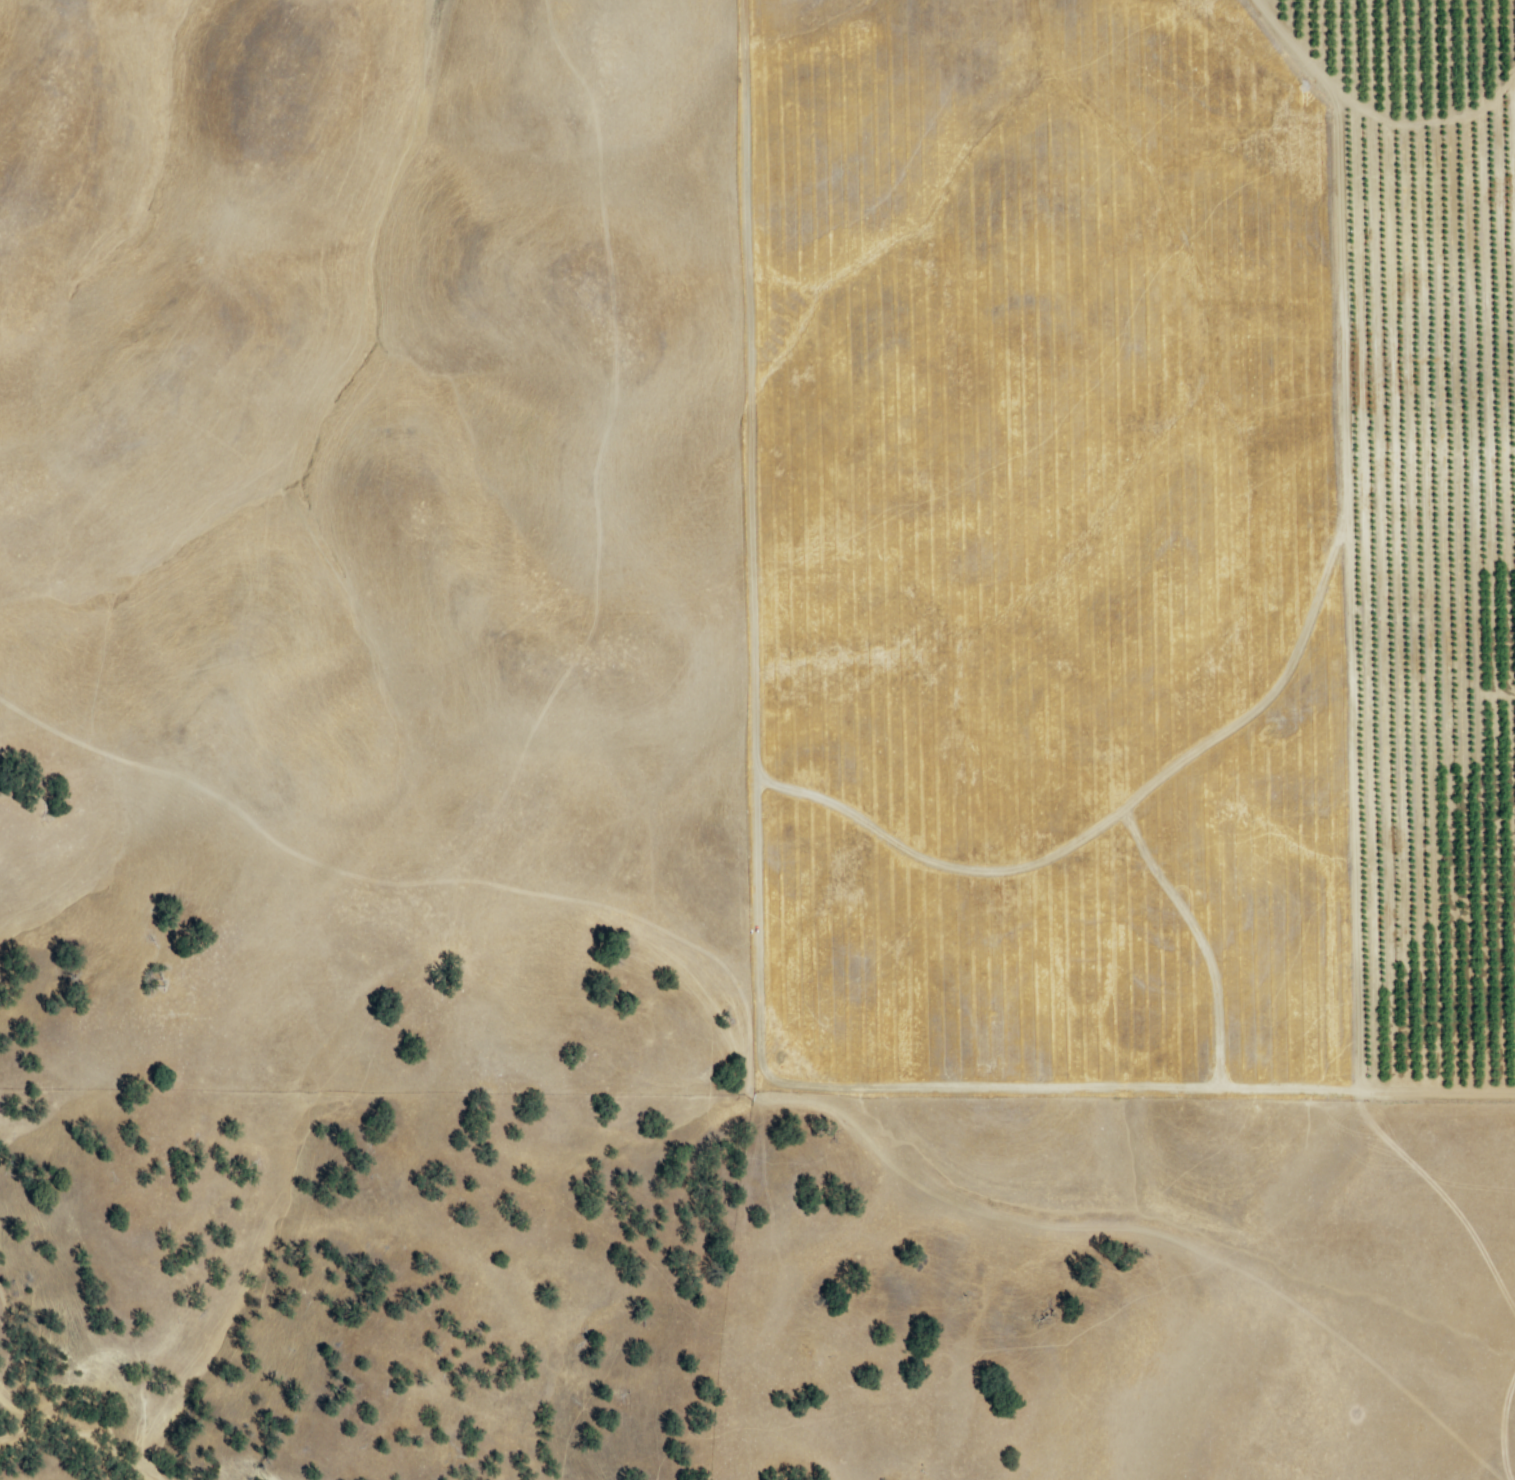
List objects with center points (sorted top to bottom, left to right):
crop: (1041, 552)

